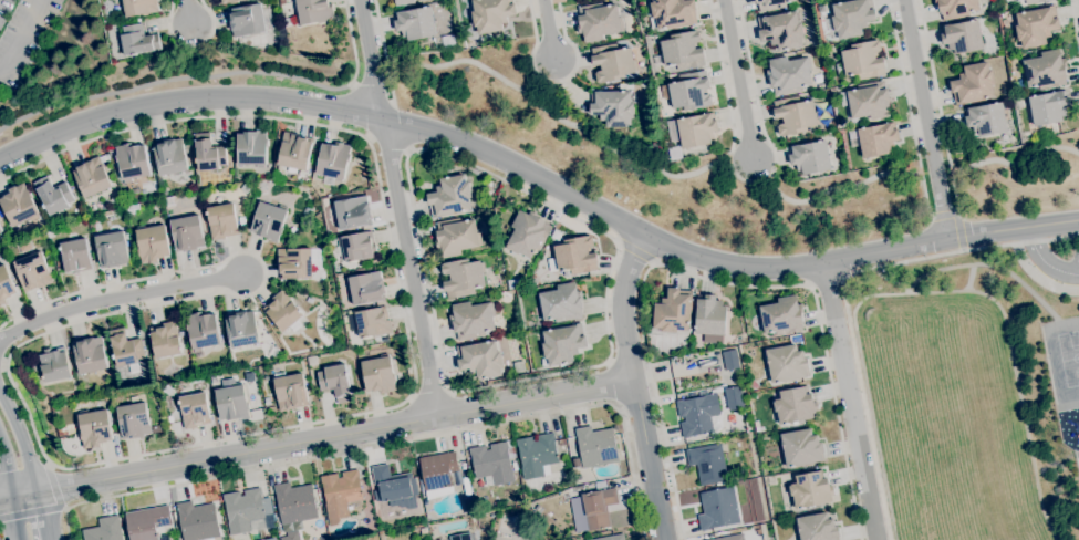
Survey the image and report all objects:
building: (229, 1)
building: (403, 1)
road: (551, 1)
building: (1029, 1)
building: (771, 4)
building: (139, 7)
building: (956, 8)
building: (820, 9)
building: (313, 10)
road: (186, 12)
building: (491, 13)
building: (672, 13)
building: (852, 17)
building: (246, 20)
building: (598, 20)
road: (1075, 20)
building: (415, 23)
building: (1036, 25)
parking lot: (23, 28)
road: (549, 30)
building: (780, 30)
road: (23, 35)
building: (962, 37)
building: (138, 40)
road: (352, 44)
road: (191, 45)
road: (382, 49)
building: (682, 50)
building: (861, 61)
building: (612, 62)
building: (1045, 69)
building: (789, 74)
road: (738, 79)
road: (169, 80)
road: (554, 80)
road: (725, 82)
building: (973, 84)
road: (353, 85)
building: (689, 91)
road: (755, 93)
road: (372, 95)
road: (553, 97)
road: (391, 101)
building: (867, 101)
road: (936, 104)
building: (1048, 106)
building: (612, 107)
road: (910, 107)
road: (363, 111)
building: (795, 115)
building: (985, 118)
road: (925, 120)
road: (397, 125)
building: (693, 129)
road: (369, 137)
building: (874, 139)
road: (388, 141)
building: (655, 146)
building: (251, 148)
road: (479, 148)
building: (294, 150)
road: (407, 150)
building: (208, 153)
building: (675, 153)
building: (170, 156)
building: (810, 157)
building: (132, 162)
building: (333, 162)
road: (726, 164)
building: (92, 177)
building: (246, 187)
building: (53, 195)
building: (449, 196)
road: (533, 197)
building: (18, 205)
road: (397, 207)
building: (132, 208)
road: (943, 211)
building: (308, 212)
building: (353, 212)
building: (91, 214)
building: (241, 220)
building: (268, 220)
building: (222, 221)
building: (0, 229)
building: (292, 229)
road: (958, 230)
road: (1013, 230)
building: (556, 232)
building: (187, 233)
building: (527, 233)
building: (456, 236)
building: (152, 242)
building: (24, 246)
building: (355, 247)
building: (112, 249)
road: (634, 251)
building: (75, 255)
building: (573, 256)
road: (1044, 261)
building: (59, 263)
building: (298, 263)
building: (33, 271)
building: (321, 274)
building: (461, 277)
road: (1039, 278)
road: (716, 281)
building: (6, 284)
building: (515, 284)
building: (366, 288)
road: (844, 292)
road: (121, 297)
building: (310, 300)
building: (561, 302)
building: (283, 311)
building: (672, 314)
building: (781, 315)
building: (471, 319)
building: (710, 319)
building: (372, 322)
building: (241, 329)
building: (203, 330)
park: (905, 337)
building: (165, 339)
building: (562, 344)
building: (125, 349)
building: (90, 354)
park: (1069, 356)
building: (480, 359)
building: (729, 359)
building: (786, 363)
building: (54, 364)
building: (518, 366)
building: (378, 374)
building: (335, 382)
road: (610, 383)
road: (633, 385)
building: (167, 390)
building: (290, 391)
road: (430, 393)
building: (267, 401)
building: (232, 402)
road: (848, 402)
building: (795, 405)
building: (194, 409)
building: (696, 414)
building: (169, 418)
building: (134, 420)
building: (94, 428)
building: (62, 430)
road: (315, 437)
park: (952, 438)
road: (21, 442)
road: (207, 442)
road: (391, 444)
building: (595, 446)
building: (801, 448)
building: (537, 454)
building: (494, 463)
building: (707, 463)
building: (437, 474)
building: (464, 482)
building: (392, 484)
road: (54, 485)
road: (10, 489)
building: (810, 489)
building: (373, 491)
building: (340, 494)
building: (294, 505)
building: (718, 508)
building: (246, 509)
building: (592, 509)
road: (32, 512)
road: (44, 515)
building: (197, 521)
building: (147, 522)
building: (423, 528)
building: (817, 528)
building: (104, 529)
building: (460, 537)
building: (610, 538)
building: (730, 538)
building: (271, 539)

